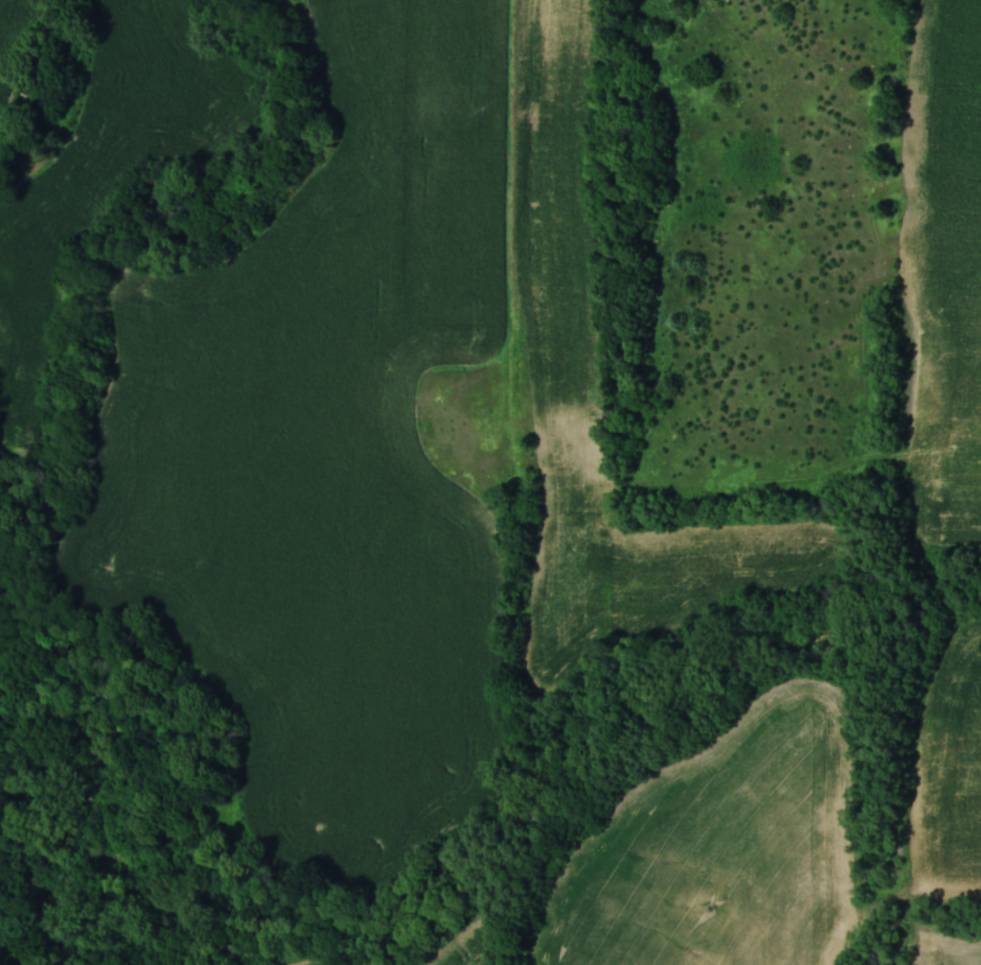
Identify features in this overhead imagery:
crop: (599, 386)
crop: (719, 850)
crop: (470, 946)
crop: (947, 947)
crop: (327, 962)

